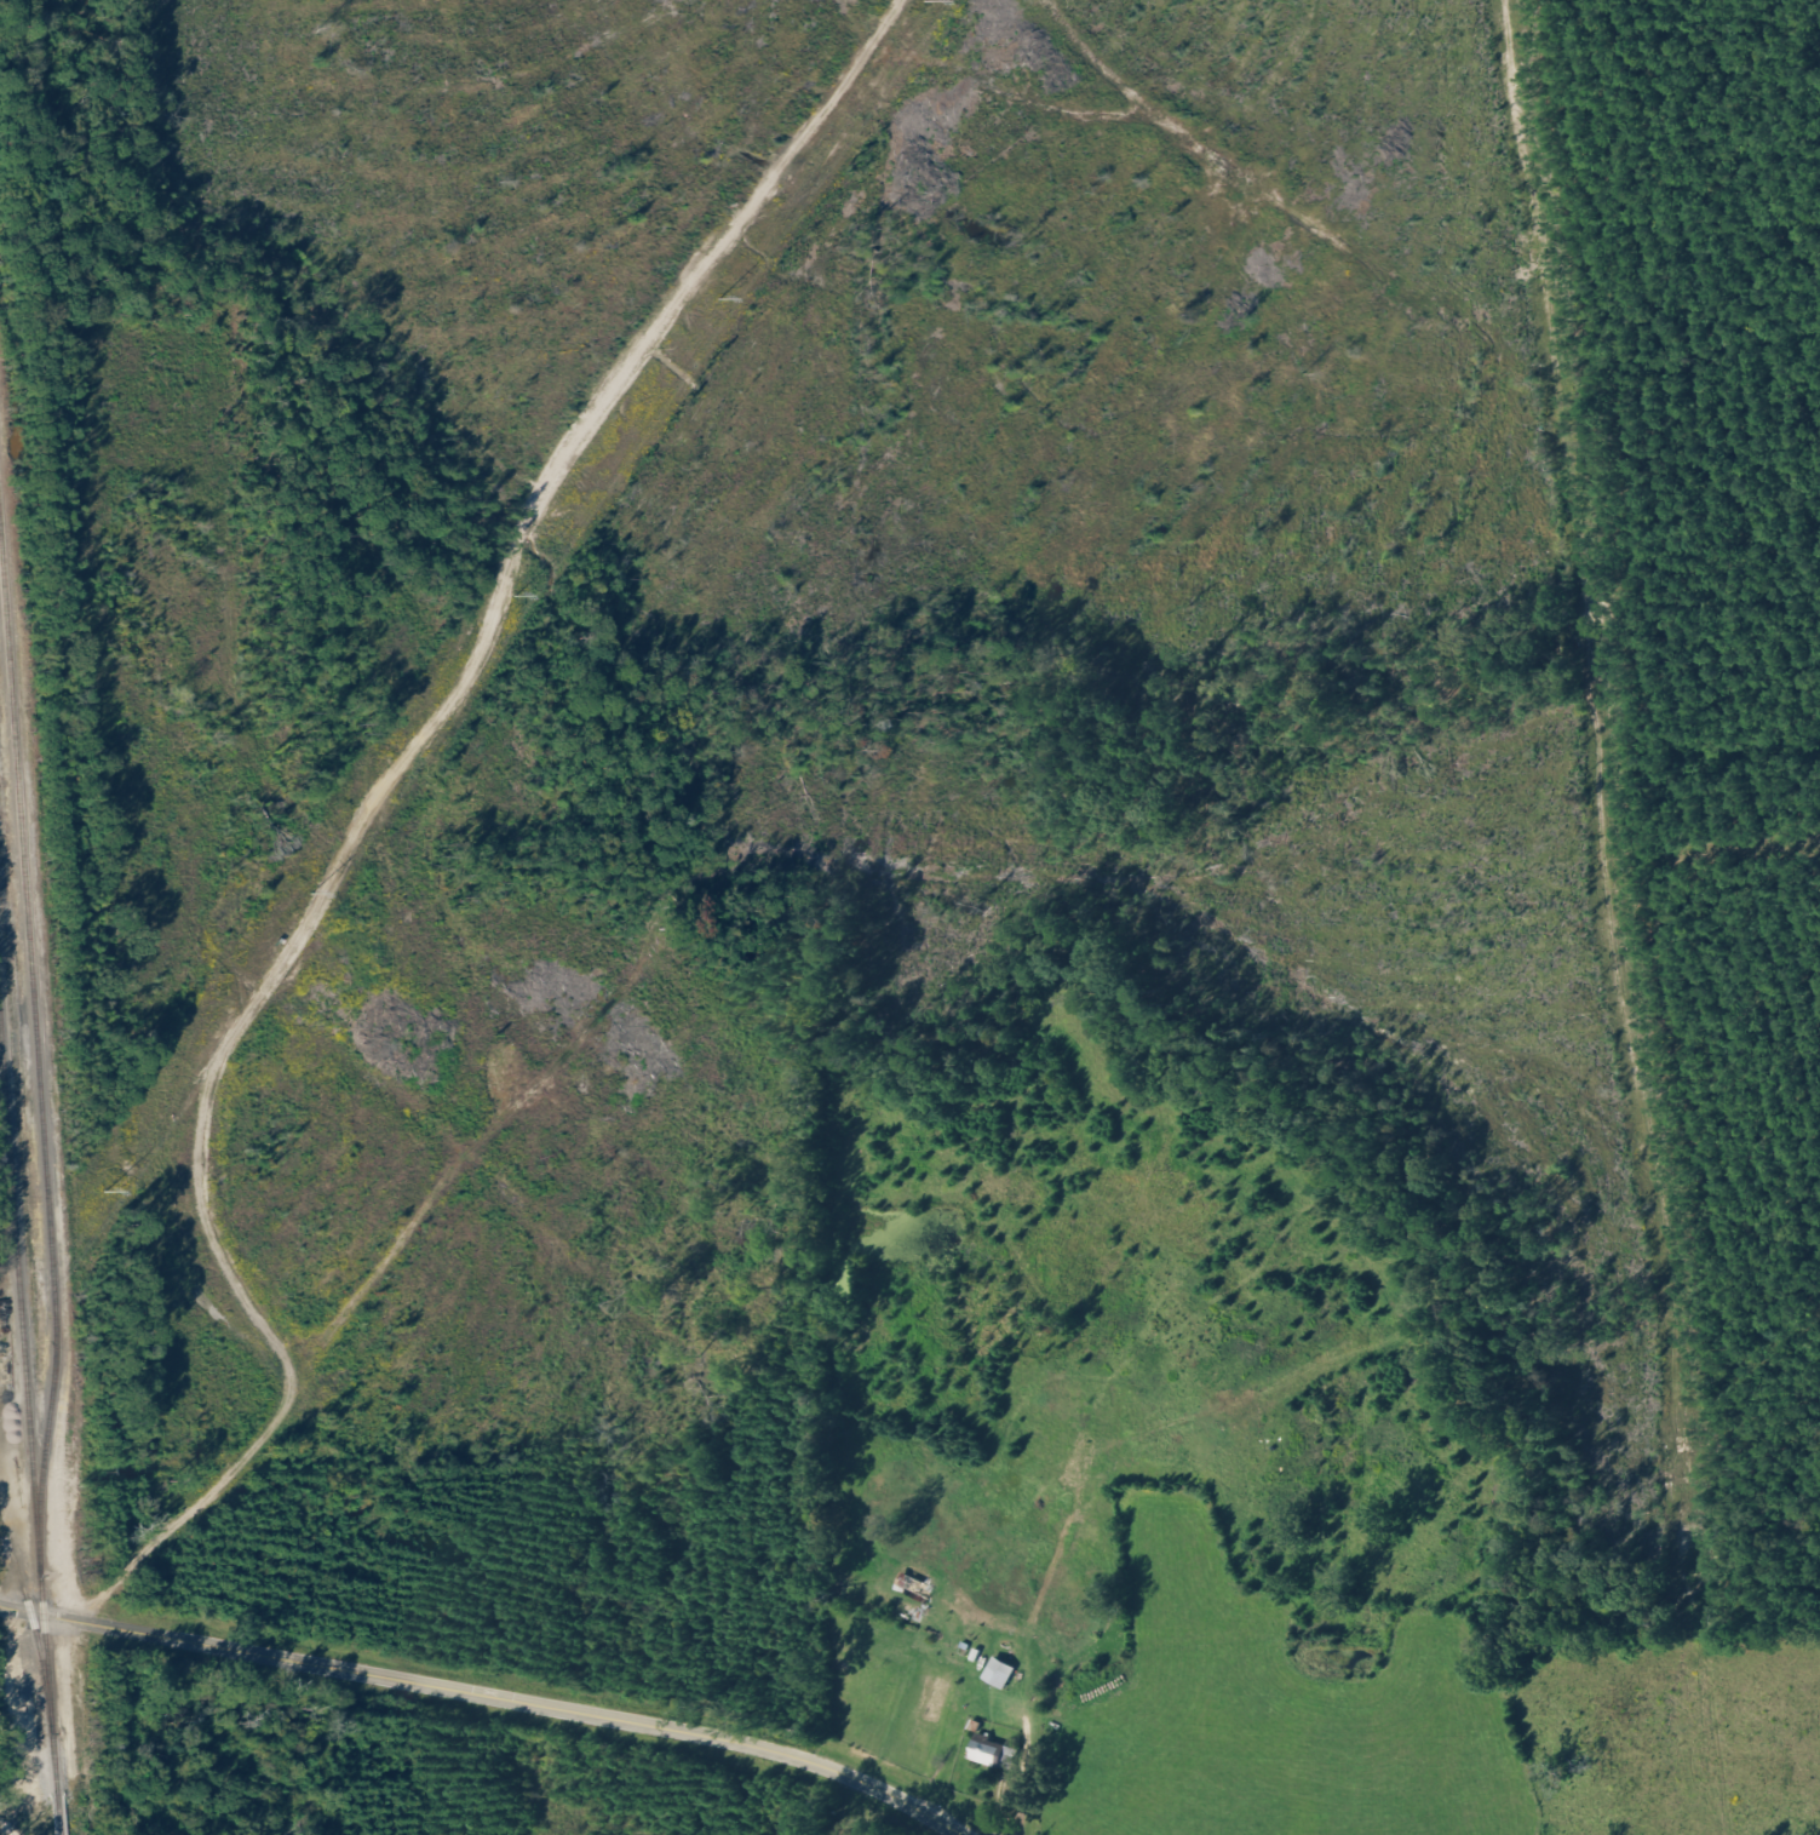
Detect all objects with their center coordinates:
railway: (35, 1043)
railway: (30, 1443)
building: (912, 1587)
railway: (28, 1607)
building: (997, 1673)
road: (487, 1692)
building: (984, 1750)

